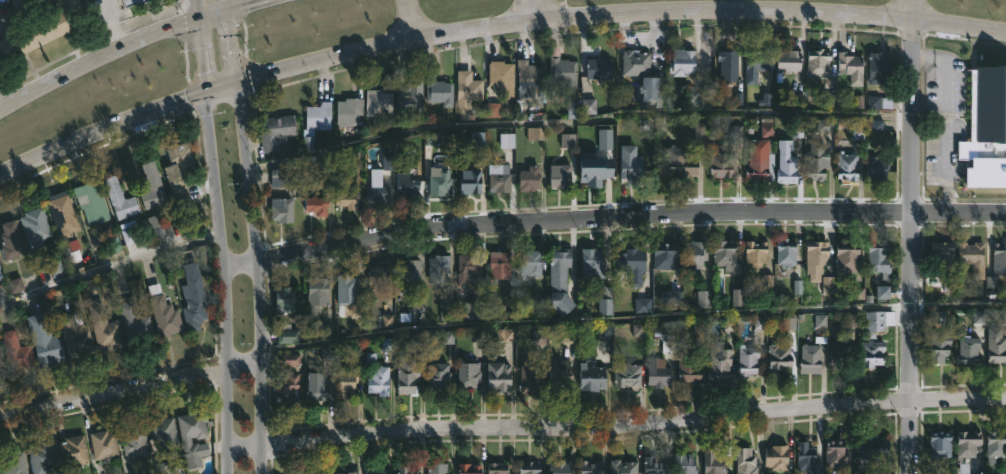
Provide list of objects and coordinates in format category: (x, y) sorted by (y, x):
building: (131, 2)
road: (228, 4)
traffic signals: (229, 9)
road: (196, 10)
road: (913, 11)
road: (532, 13)
road: (409, 20)
traffic signals: (197, 21)
road: (113, 25)
building: (38, 26)
road: (491, 30)
road: (233, 46)
road: (125, 49)
road: (202, 56)
building: (787, 59)
building: (726, 61)
building: (636, 62)
building: (682, 63)
building: (818, 63)
building: (757, 66)
building: (851, 67)
building: (878, 69)
building: (599, 70)
building: (562, 73)
building: (500, 76)
building: (530, 80)
building: (467, 88)
building: (439, 91)
traffic signals: (207, 92)
building: (653, 92)
building: (410, 97)
building: (699, 98)
building: (879, 102)
building: (377, 103)
building: (580, 107)
building: (348, 110)
building: (315, 122)
road: (577, 124)
building: (986, 126)
building: (274, 131)
building: (679, 160)
building: (816, 160)
building: (759, 161)
building: (722, 164)
building: (846, 165)
building: (786, 166)
building: (877, 168)
building: (631, 169)
building: (178, 173)
building: (596, 174)
building: (559, 176)
building: (498, 179)
building: (529, 179)
building: (439, 181)
building: (469, 181)
building: (378, 182)
building: (406, 185)
building: (151, 187)
building: (119, 198)
building: (346, 199)
building: (92, 204)
building: (315, 205)
building: (281, 210)
building: (62, 213)
road: (613, 217)
building: (155, 225)
building: (34, 226)
building: (10, 241)
road: (909, 248)
building: (694, 253)
building: (724, 253)
building: (755, 253)
building: (942, 253)
building: (664, 256)
building: (815, 256)
building: (999, 256)
building: (784, 257)
building: (846, 257)
building: (878, 257)
building: (972, 257)
building: (530, 263)
building: (498, 265)
building: (631, 265)
road: (110, 266)
building: (467, 266)
building: (592, 266)
building: (438, 268)
building: (407, 273)
building: (378, 276)
building: (0, 277)
road: (260, 277)
building: (559, 280)
road: (225, 282)
building: (994, 286)
building: (345, 290)
building: (315, 294)
building: (192, 298)
building: (285, 299)
building: (605, 300)
building: (164, 317)
building: (876, 322)
road: (634, 324)
building: (134, 325)
building: (103, 327)
building: (286, 333)
building: (73, 337)
building: (665, 339)
building: (44, 342)
building: (995, 346)
building: (940, 347)
building: (967, 350)
building: (15, 353)
building: (871, 353)
building: (839, 355)
building: (777, 358)
building: (809, 358)
building: (290, 360)
building: (747, 360)
building: (719, 365)
building: (687, 368)
building: (2, 369)
building: (405, 372)
building: (557, 373)
building: (658, 373)
building: (625, 375)
building: (467, 376)
building: (497, 376)
building: (591, 377)
building: (437, 378)
building: (529, 379)
building: (378, 382)
road: (131, 384)
building: (344, 385)
building: (314, 386)
building: (287, 390)
road: (616, 423)
building: (163, 433)
building: (193, 437)
building: (134, 441)
building: (966, 444)
building: (940, 445)
building: (995, 445)
building: (104, 446)
building: (874, 447)
building: (73, 453)
building: (836, 455)
building: (775, 457)
building: (805, 458)
building: (42, 459)
building: (744, 461)
building: (12, 462)
building: (683, 463)
building: (713, 463)
building: (653, 465)
building: (558, 467)
building: (589, 467)
building: (621, 467)
building: (435, 468)
building: (496, 468)
building: (528, 468)
building: (467, 469)
building: (378, 471)
building: (408, 471)
building: (351, 472)
building: (338, 473)

